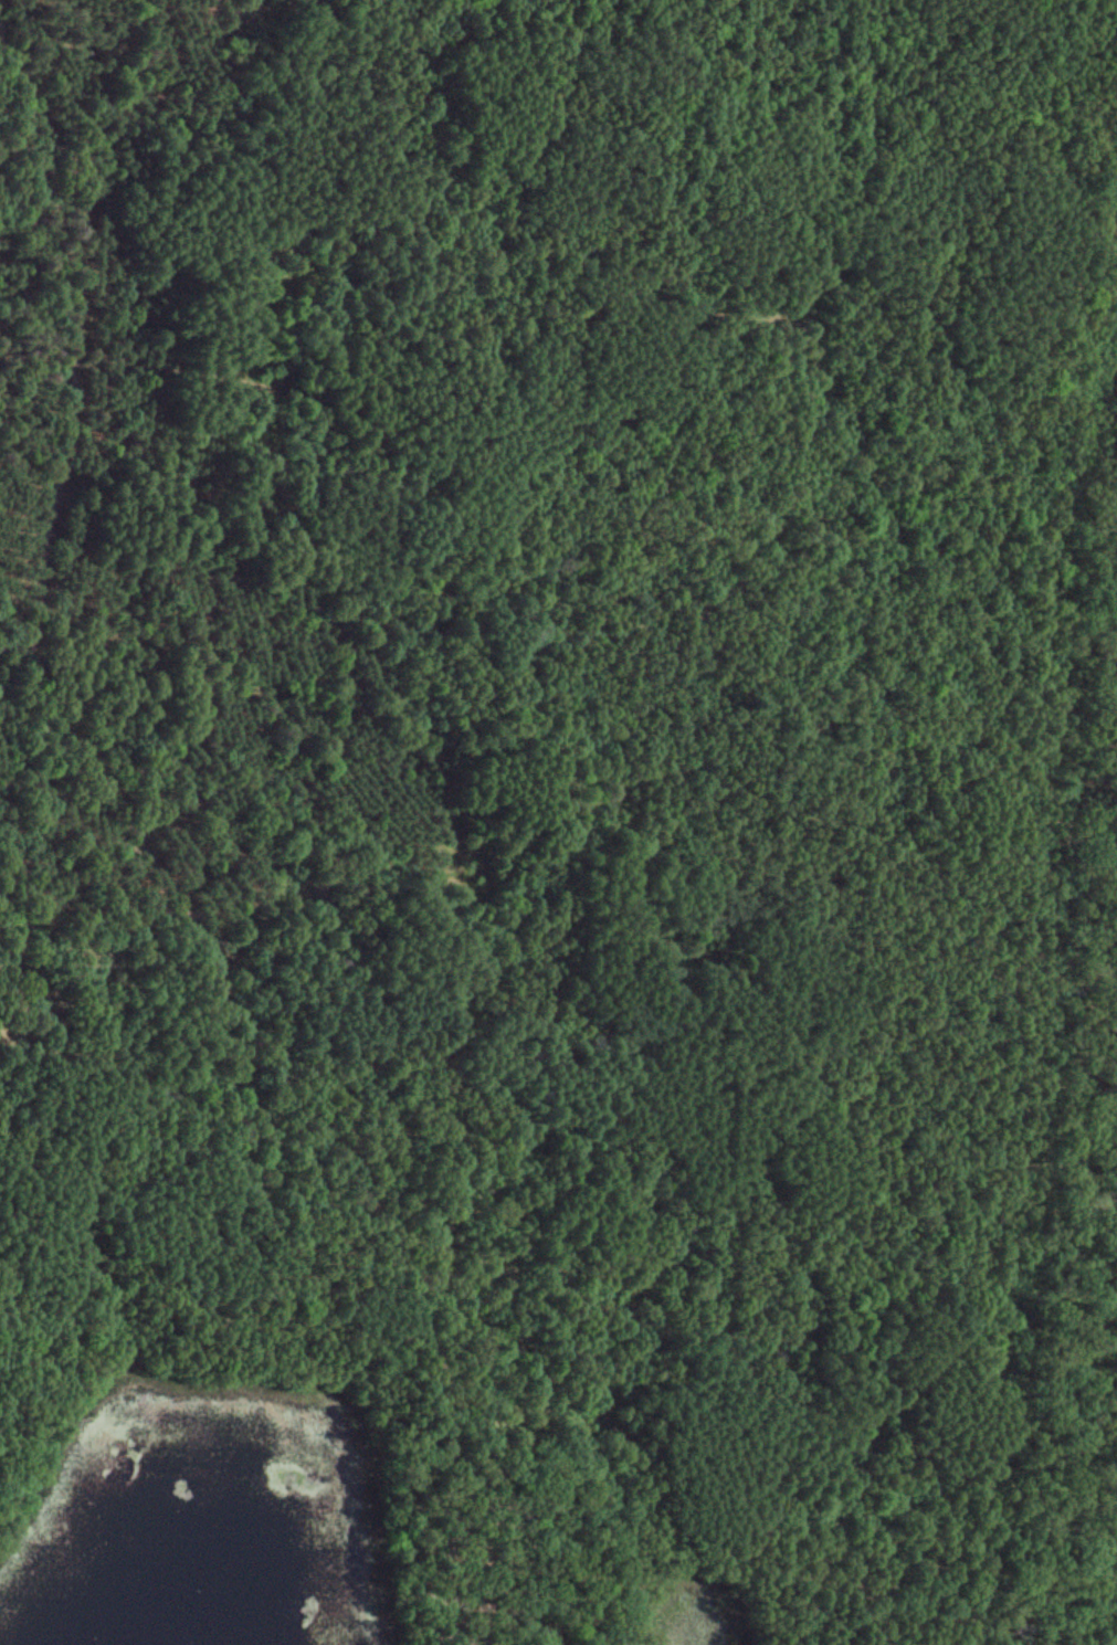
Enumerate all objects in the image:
road: (157, 862)

